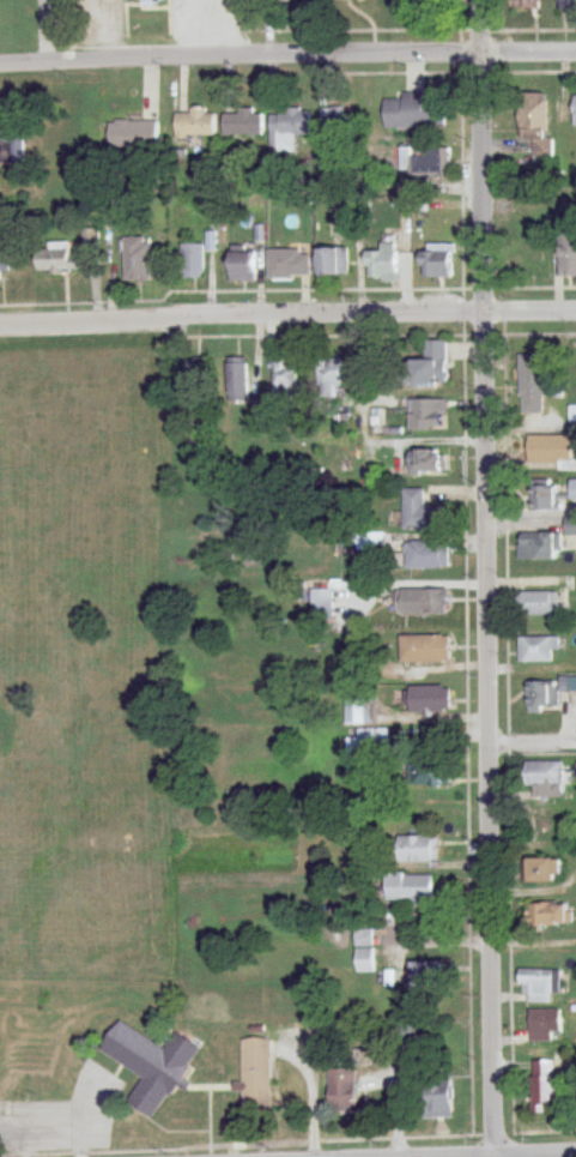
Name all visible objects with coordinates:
building: (527, 4)
building: (565, 4)
road: (527, 48)
road: (238, 54)
building: (574, 110)
building: (414, 112)
building: (334, 122)
building: (195, 123)
building: (243, 123)
building: (536, 125)
building: (289, 129)
building: (133, 134)
building: (11, 146)
building: (425, 163)
building: (568, 253)
building: (6, 259)
building: (57, 259)
building: (137, 259)
building: (193, 261)
building: (333, 263)
building: (382, 264)
building: (290, 265)
building: (435, 265)
building: (242, 267)
road: (287, 314)
building: (426, 367)
building: (199, 375)
building: (332, 375)
building: (286, 379)
building: (238, 380)
building: (533, 382)
building: (428, 414)
building: (552, 451)
building: (425, 460)
building: (572, 489)
building: (542, 494)
building: (420, 512)
building: (571, 526)
building: (539, 546)
building: (426, 554)
road: (486, 578)
building: (321, 598)
building: (422, 602)
building: (540, 604)
building: (425, 649)
building: (536, 649)
building: (544, 694)
building: (429, 699)
building: (362, 710)
building: (369, 743)
road: (532, 745)
building: (430, 776)
building: (545, 779)
building: (418, 849)
building: (541, 870)
building: (410, 887)
building: (548, 914)
building: (364, 951)
building: (426, 975)
building: (541, 986)
building: (545, 1025)
building: (310, 1034)
building: (406, 1036)
building: (150, 1066)
building: (256, 1077)
building: (545, 1085)
building: (341, 1089)
building: (437, 1097)

